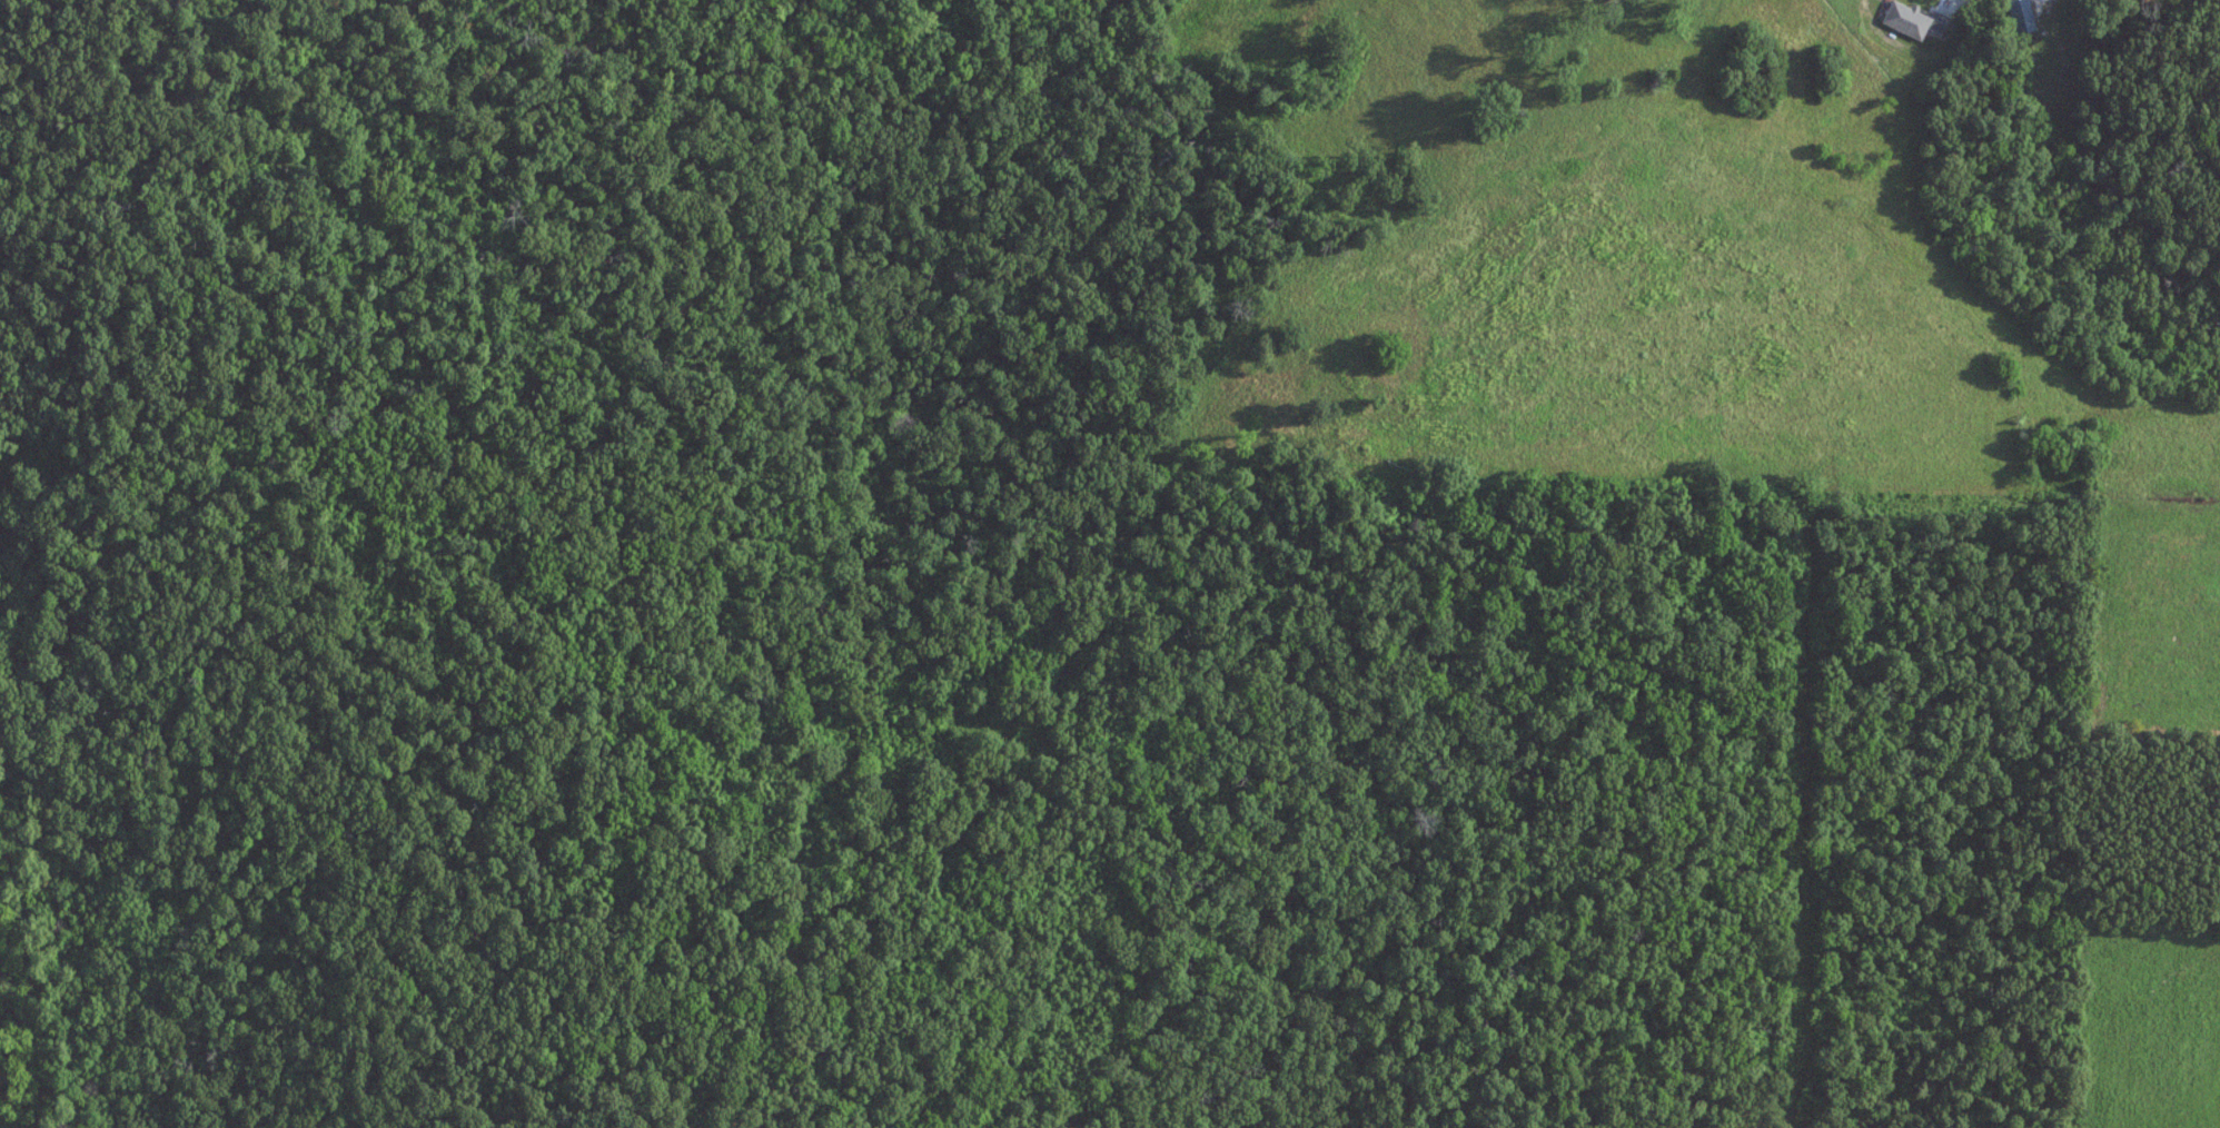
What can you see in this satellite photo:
road: (1943, 17)

